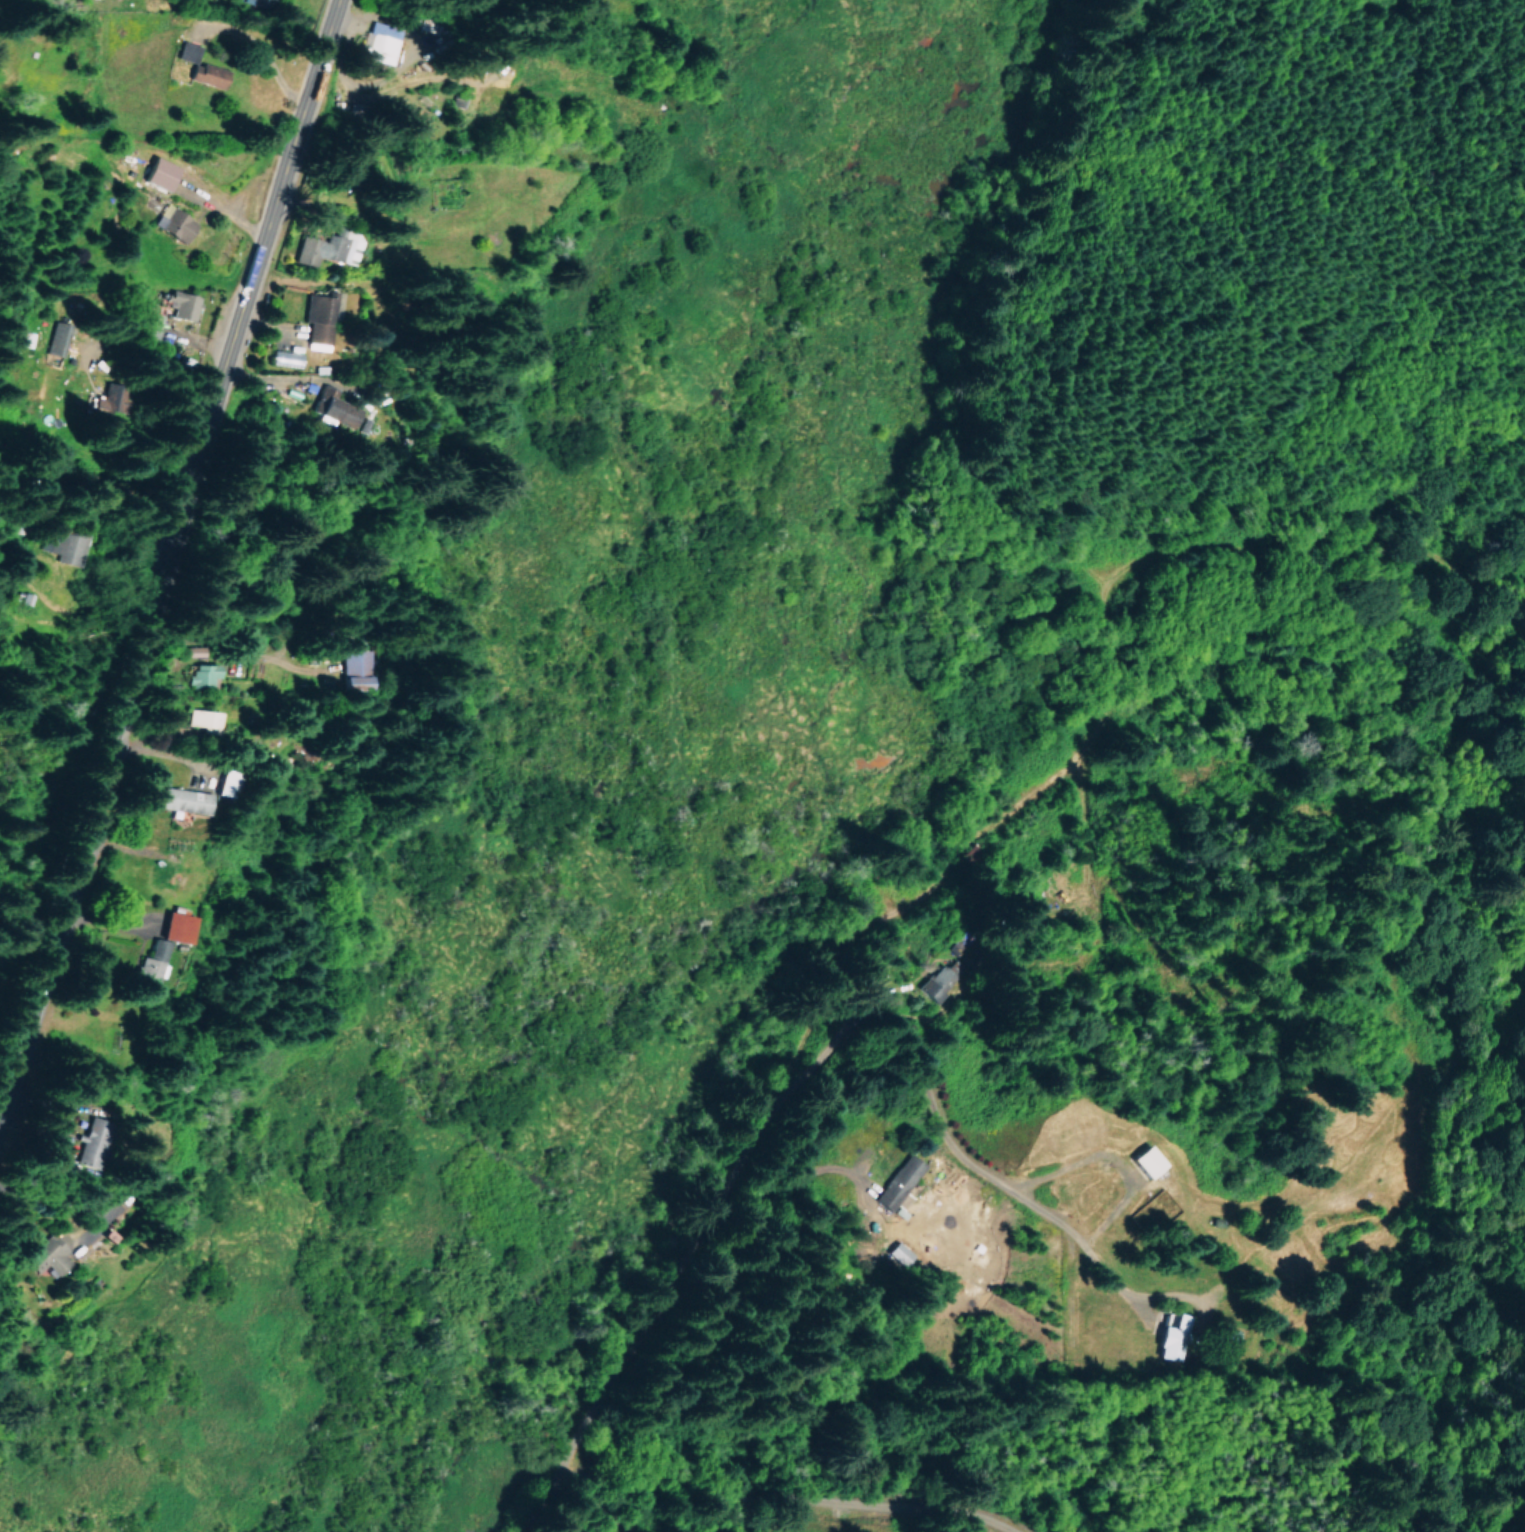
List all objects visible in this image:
building: (255, 3)
building: (377, 41)
building: (198, 65)
building: (158, 172)
building: (173, 222)
building: (326, 247)
building: (181, 303)
building: (148, 324)
building: (56, 340)
building: (285, 358)
building: (333, 407)
road: (170, 543)
building: (62, 547)
building: (351, 661)
building: (201, 674)
building: (203, 720)
building: (226, 783)
building: (183, 799)
building: (176, 926)
building: (148, 964)
building: (940, 979)
building: (88, 1143)
building: (1146, 1160)
building: (898, 1181)
road: (521, 1188)
building: (898, 1252)
building: (46, 1255)
road: (597, 1272)
road: (7, 1305)
building: (1173, 1337)
road: (631, 1493)

